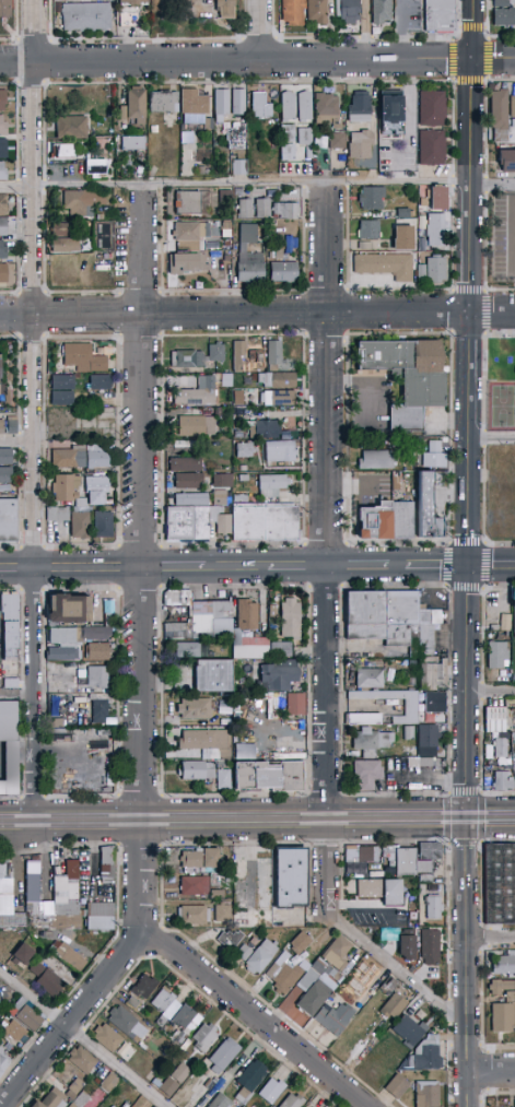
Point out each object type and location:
building: (131, 2)
building: (499, 3)
building: (4, 9)
building: (224, 10)
building: (316, 12)
building: (348, 12)
building: (381, 12)
building: (292, 13)
road: (457, 13)
building: (438, 15)
building: (86, 16)
building: (504, 17)
road: (271, 19)
road: (15, 20)
road: (48, 20)
road: (243, 20)
building: (129, 21)
road: (471, 27)
road: (485, 27)
road: (259, 30)
road: (365, 30)
road: (488, 32)
road: (457, 33)
road: (412, 36)
road: (316, 37)
road: (364, 37)
road: (145, 38)
road: (488, 38)
road: (8, 39)
road: (32, 39)
road: (258, 39)
road: (242, 58)
traffic signals: (472, 59)
road: (452, 60)
road: (257, 61)
road: (485, 75)
building: (2, 101)
building: (163, 102)
building: (238, 102)
building: (194, 103)
building: (221, 103)
building: (260, 105)
building: (303, 106)
building: (512, 106)
building: (133, 107)
building: (359, 108)
building: (431, 108)
building: (327, 109)
building: (499, 109)
road: (485, 113)
building: (390, 115)
building: (203, 123)
building: (2, 126)
building: (286, 126)
building: (70, 128)
building: (235, 137)
building: (304, 137)
building: (337, 141)
building: (132, 144)
building: (360, 144)
building: (431, 148)
building: (2, 149)
building: (62, 151)
building: (506, 161)
building: (95, 167)
building: (239, 167)
building: (2, 170)
road: (487, 179)
road: (257, 185)
road: (487, 188)
building: (371, 198)
building: (437, 198)
building: (82, 202)
building: (192, 203)
building: (2, 204)
building: (267, 210)
road: (514, 226)
building: (2, 227)
building: (221, 228)
building: (368, 229)
building: (60, 231)
building: (435, 231)
building: (189, 232)
building: (247, 234)
building: (402, 235)
building: (103, 236)
building: (288, 242)
building: (65, 245)
road: (485, 256)
building: (2, 261)
building: (186, 263)
building: (384, 266)
building: (250, 268)
building: (432, 270)
building: (283, 272)
road: (257, 314)
building: (215, 352)
building: (271, 352)
building: (242, 356)
building: (83, 358)
building: (187, 358)
building: (407, 377)
building: (276, 380)
building: (98, 382)
building: (61, 390)
building: (197, 394)
building: (234, 396)
building: (279, 398)
park: (501, 407)
road: (468, 409)
road: (33, 411)
building: (259, 425)
building: (196, 426)
building: (2, 427)
building: (11, 427)
road: (16, 438)
road: (491, 438)
building: (92, 444)
building: (244, 450)
building: (281, 450)
building: (77, 456)
building: (434, 456)
building: (375, 460)
building: (184, 464)
building: (5, 471)
building: (187, 482)
building: (270, 485)
building: (65, 487)
building: (222, 488)
building: (96, 491)
road: (326, 502)
road: (142, 504)
building: (426, 508)
building: (57, 515)
building: (9, 519)
building: (192, 519)
building: (385, 521)
building: (265, 523)
building: (81, 525)
building: (103, 525)
road: (491, 567)
road: (236, 568)
road: (296, 568)
road: (358, 568)
road: (398, 568)
road: (436, 568)
traffic signals: (468, 568)
road: (90, 569)
road: (174, 569)
road: (19, 570)
building: (177, 597)
building: (9, 605)
building: (70, 608)
building: (108, 612)
building: (262, 613)
building: (247, 615)
building: (365, 616)
building: (400, 617)
building: (212, 619)
building: (290, 619)
building: (502, 620)
building: (514, 620)
building: (428, 627)
building: (177, 631)
building: (96, 633)
building: (62, 636)
building: (514, 637)
building: (10, 639)
building: (249, 647)
building: (280, 649)
building: (191, 650)
building: (95, 652)
building: (63, 653)
building: (496, 656)
building: (433, 673)
building: (82, 674)
building: (279, 674)
building: (213, 676)
building: (70, 678)
building: (98, 678)
building: (370, 679)
building: (10, 684)
road: (491, 691)
road: (19, 696)
building: (260, 699)
building: (435, 703)
building: (295, 705)
building: (411, 706)
building: (195, 708)
building: (98, 711)
building: (494, 714)
building: (9, 721)
building: (409, 733)
building: (428, 741)
building: (372, 742)
building: (500, 742)
building: (208, 743)
building: (243, 743)
building: (422, 763)
building: (197, 770)
building: (366, 774)
building: (269, 776)
building: (389, 777)
building: (224, 779)
building: (502, 779)
railway: (257, 816)
road: (396, 819)
traffic signals: (466, 819)
road: (490, 819)
road: (234, 820)
road: (90, 821)
road: (19, 822)
railway: (257, 825)
building: (430, 851)
building: (200, 860)
building: (359, 860)
building: (405, 862)
building: (106, 864)
road: (327, 867)
building: (424, 868)
building: (291, 878)
building: (28, 879)
building: (220, 879)
building: (5, 880)
building: (500, 885)
building: (195, 886)
building: (381, 891)
building: (254, 894)
building: (218, 895)
building: (58, 904)
building: (411, 906)
building: (433, 909)
building: (222, 912)
building: (194, 916)
building: (13, 920)
building: (96, 922)
building: (4, 938)
road: (490, 939)
building: (233, 940)
building: (299, 943)
building: (402, 945)
building: (244, 952)
building: (431, 952)
building: (337, 953)
building: (23, 954)
building: (68, 956)
building: (260, 956)
road: (466, 963)
building: (504, 964)
road: (397, 970)
building: (285, 974)
road: (105, 975)
building: (363, 979)
building: (47, 980)
building: (389, 984)
building: (144, 986)
building: (316, 986)
building: (500, 987)
building: (132, 1002)
building: (165, 1006)
building: (394, 1006)
building: (25, 1014)
building: (503, 1014)
road: (253, 1016)
building: (333, 1017)
building: (124, 1022)
building: (185, 1023)
building: (409, 1032)
building: (14, 1035)
building: (204, 1037)
building: (107, 1038)
road: (84, 1039)
building: (388, 1050)
building: (223, 1056)
building: (424, 1057)
building: (3, 1060)
building: (81, 1060)
road: (490, 1071)
building: (173, 1081)
building: (248, 1082)
building: (109, 1083)
building: (77, 1086)
building: (397, 1086)
building: (269, 1093)
building: (426, 1094)
building: (70, 1095)
building: (51, 1099)
building: (80, 1099)
building: (221, 1102)
building: (293, 1102)
building: (152, 1106)
building: (304, 1106)

